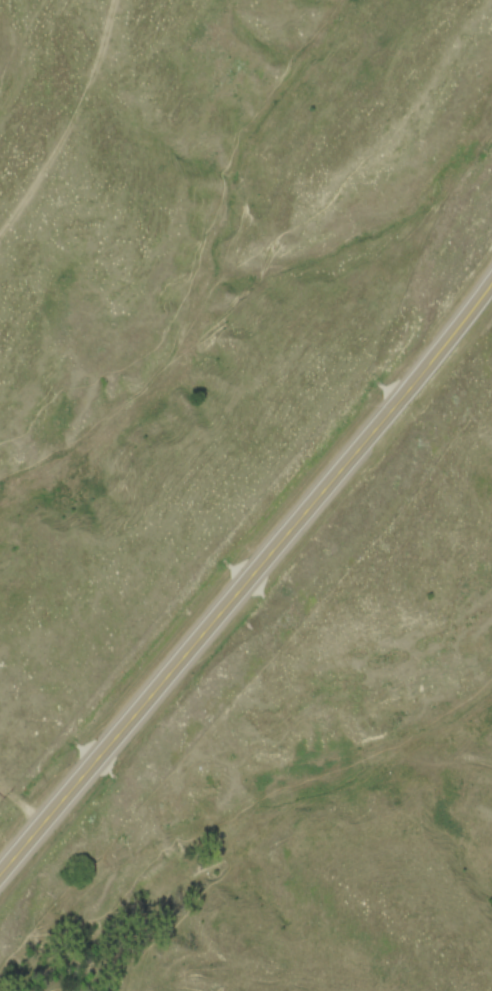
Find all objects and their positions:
road: (249, 591)

